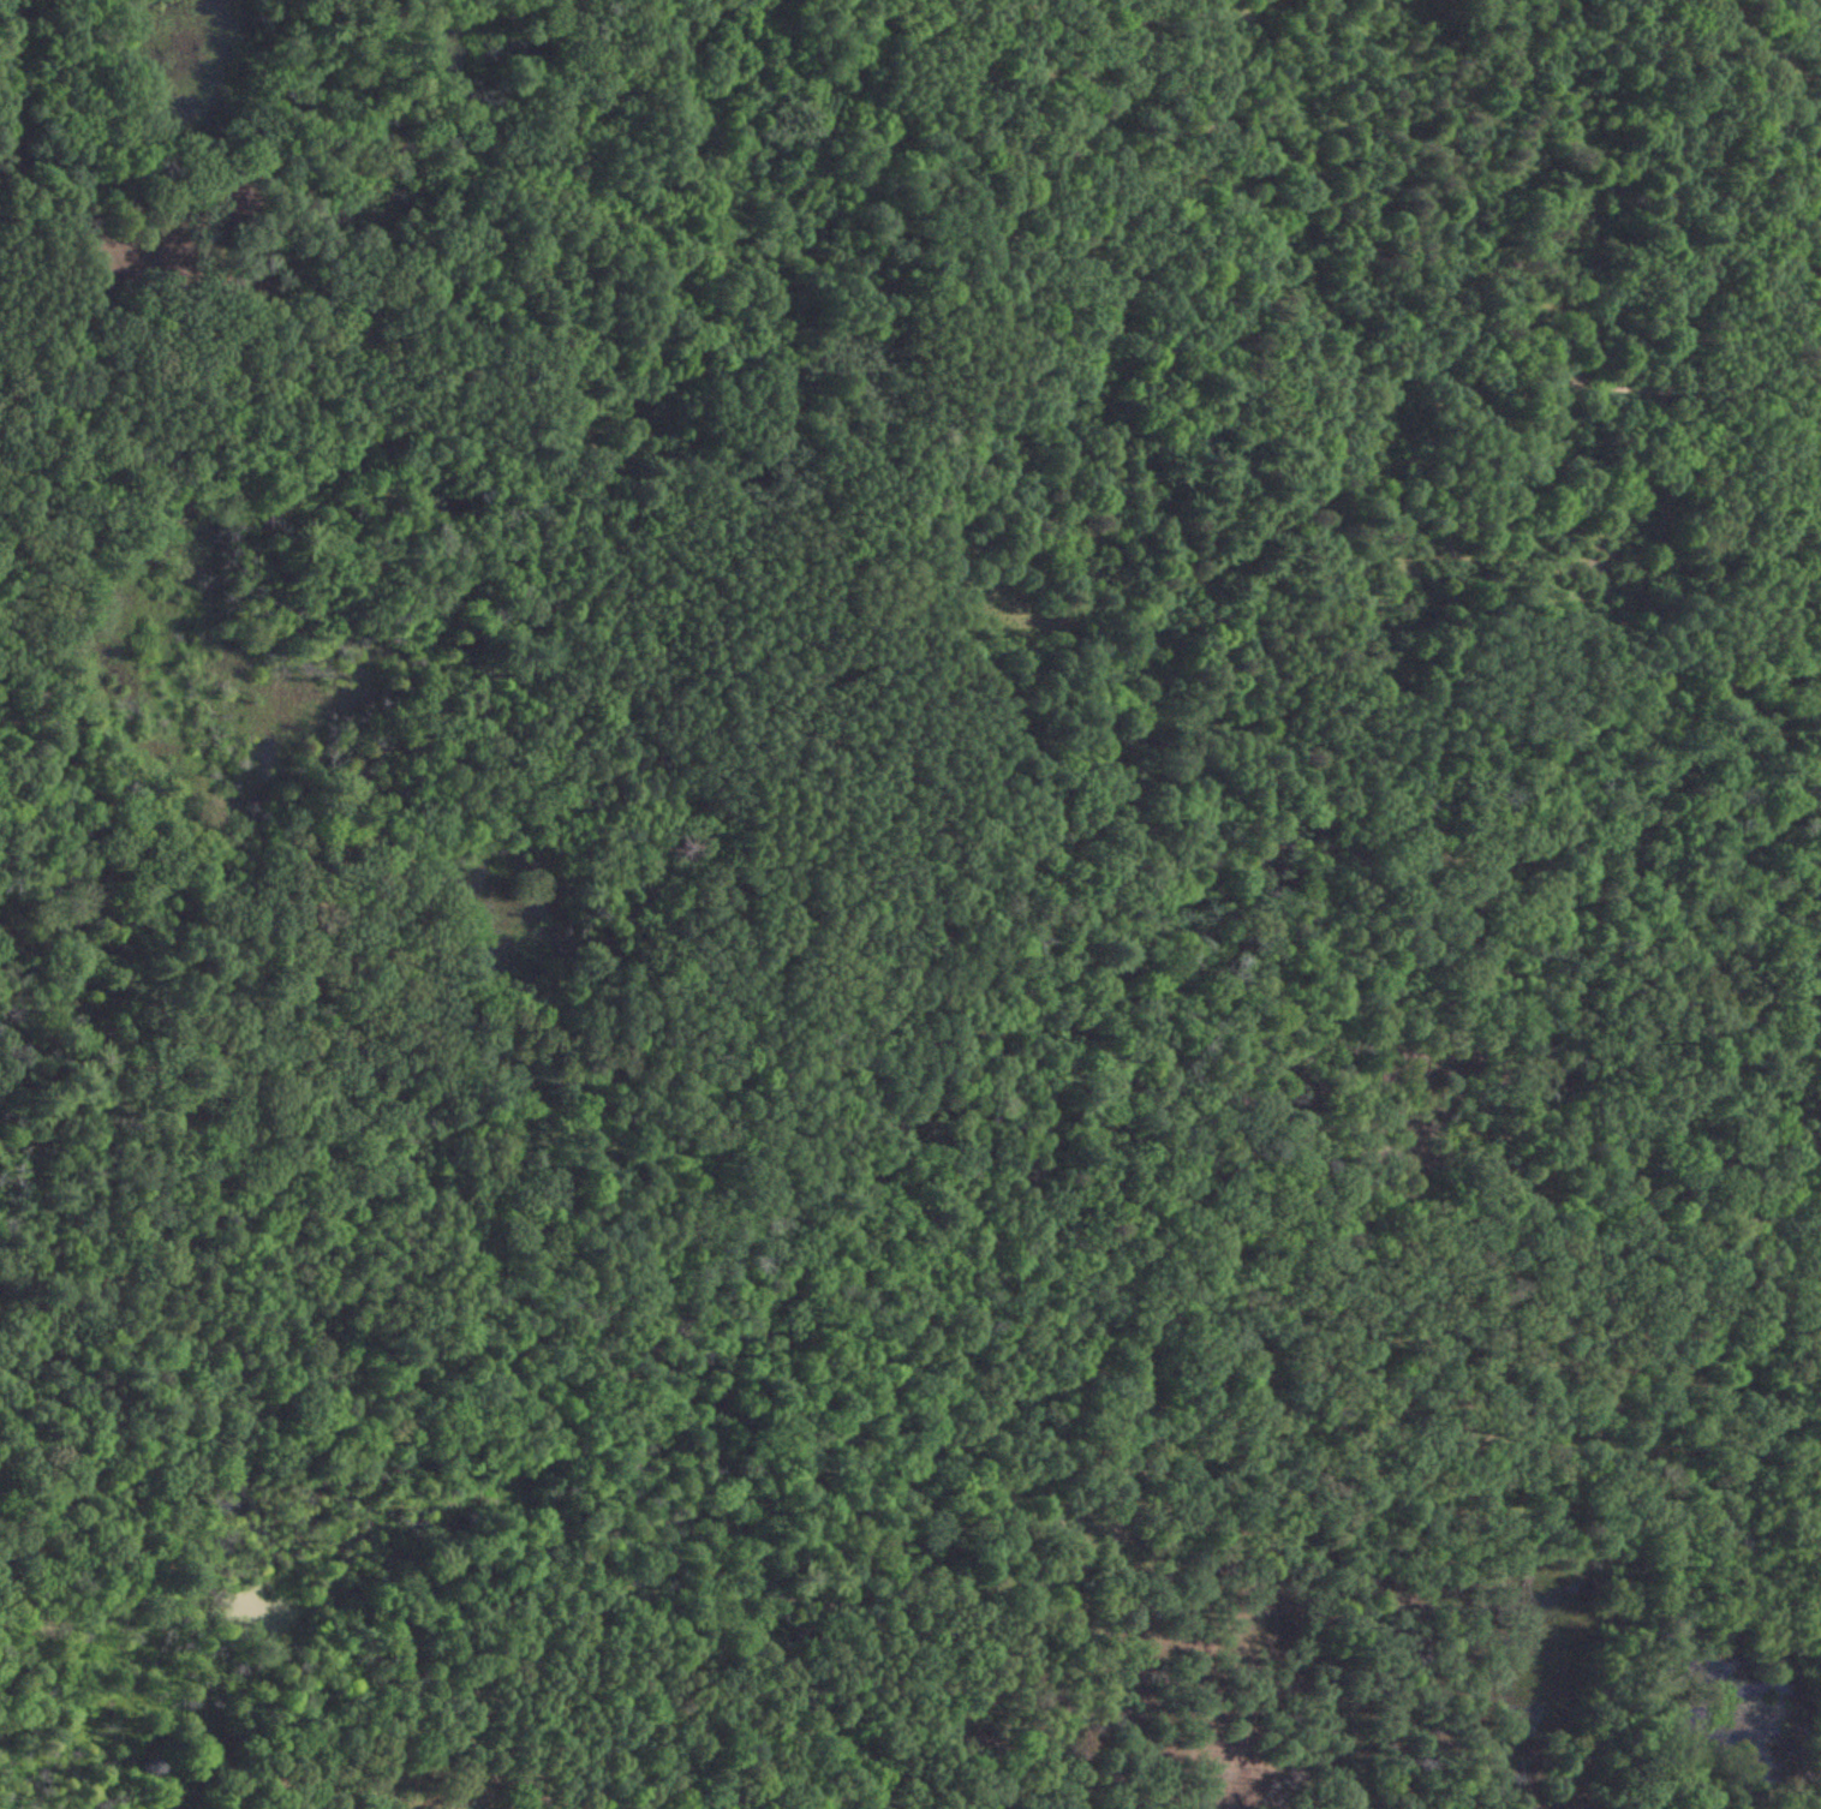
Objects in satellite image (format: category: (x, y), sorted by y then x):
road: (1278, 156)
road: (389, 287)

